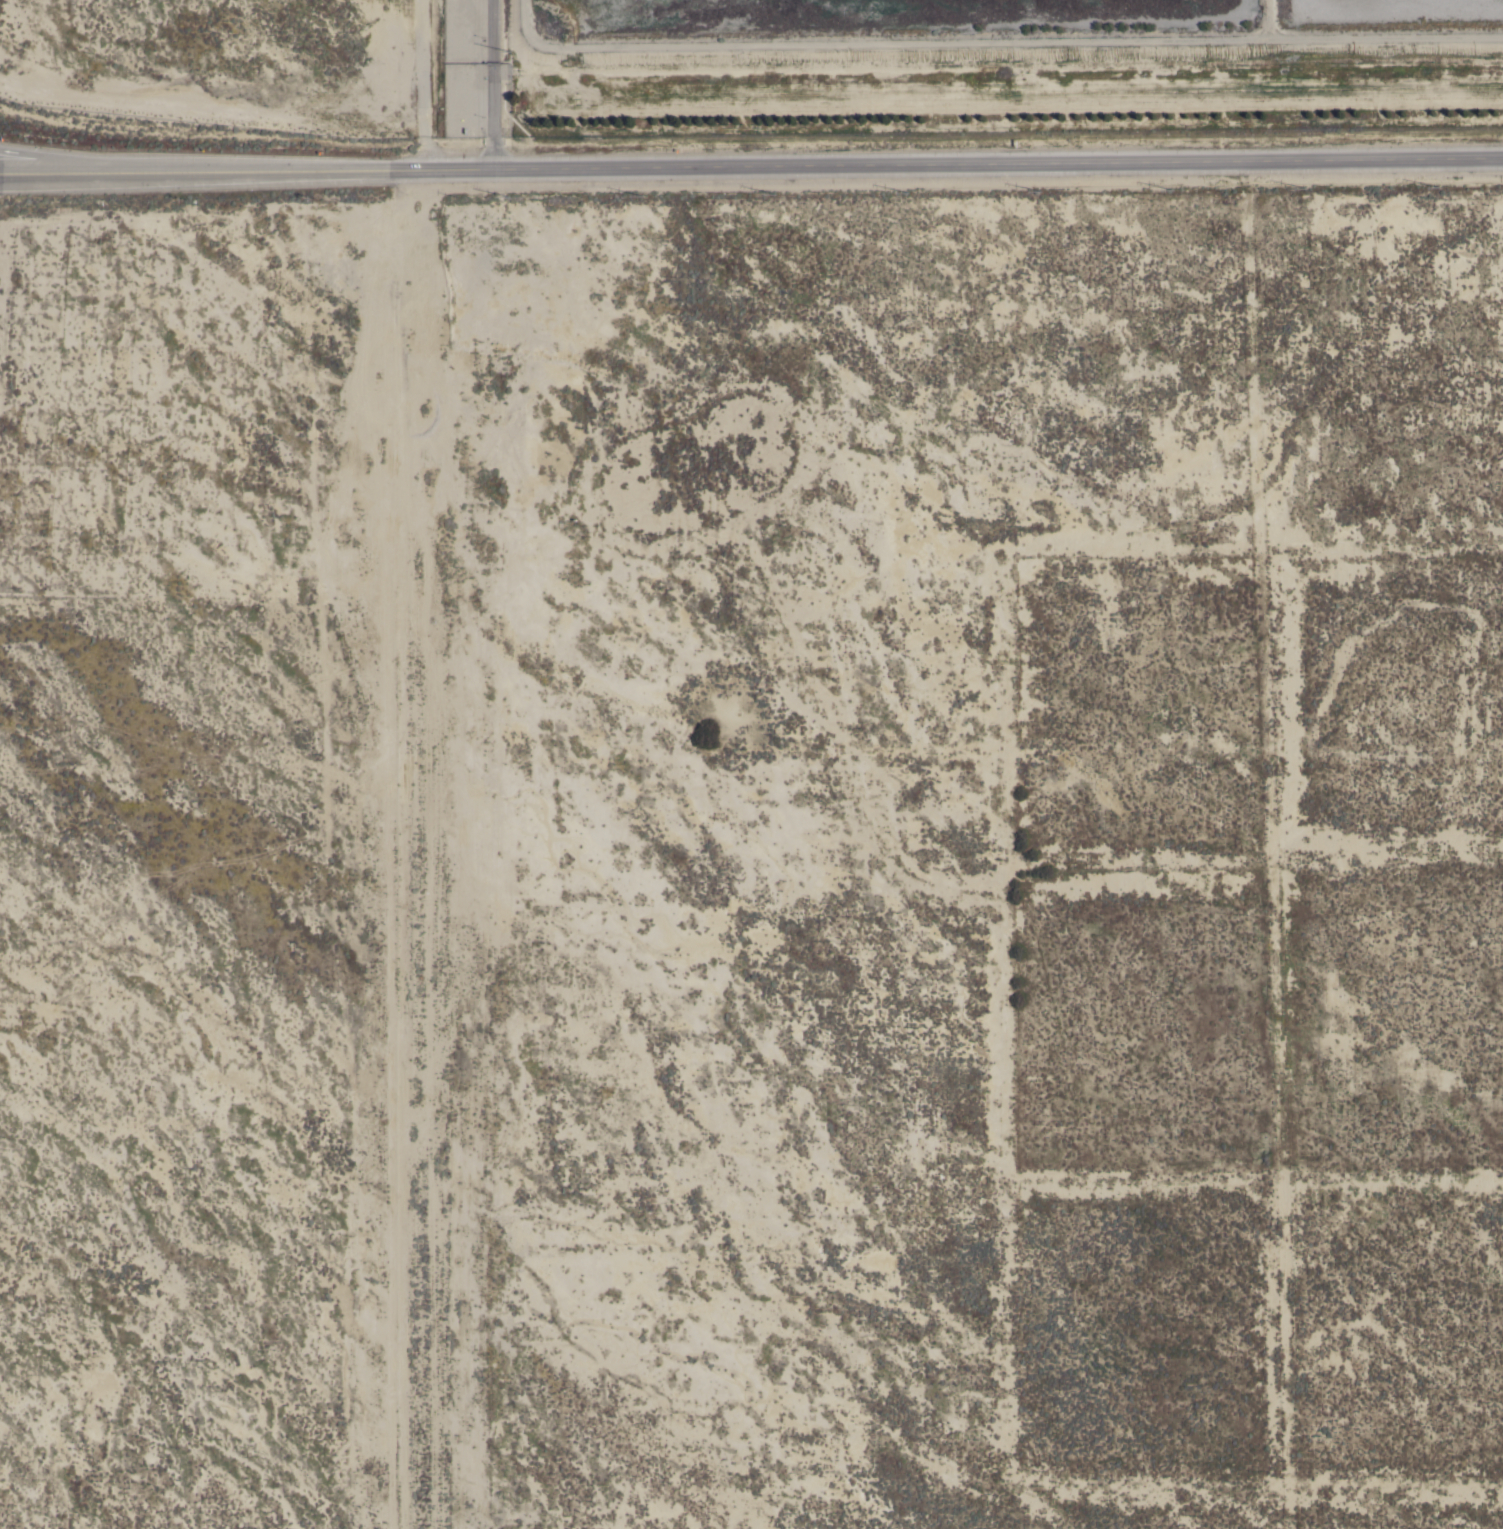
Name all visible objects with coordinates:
wastewater plant: (1388, 5)
wastewater plant: (889, 9)
wastewater plant: (759, 63)
road: (495, 84)
road: (50, 161)
road: (751, 166)

